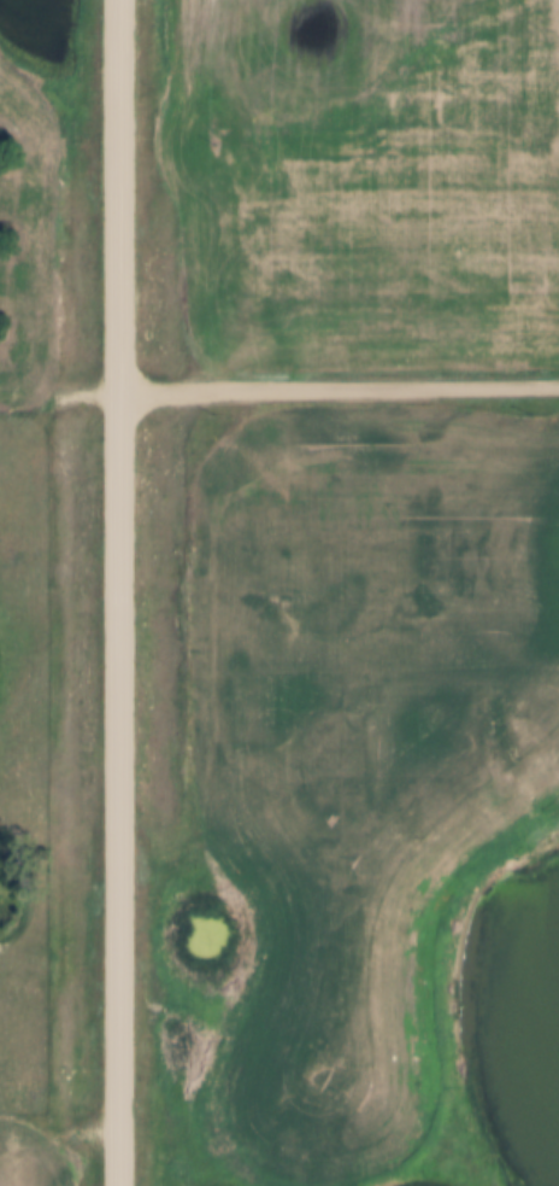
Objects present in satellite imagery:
road: (339, 390)
road: (118, 592)
road: (43, 648)

